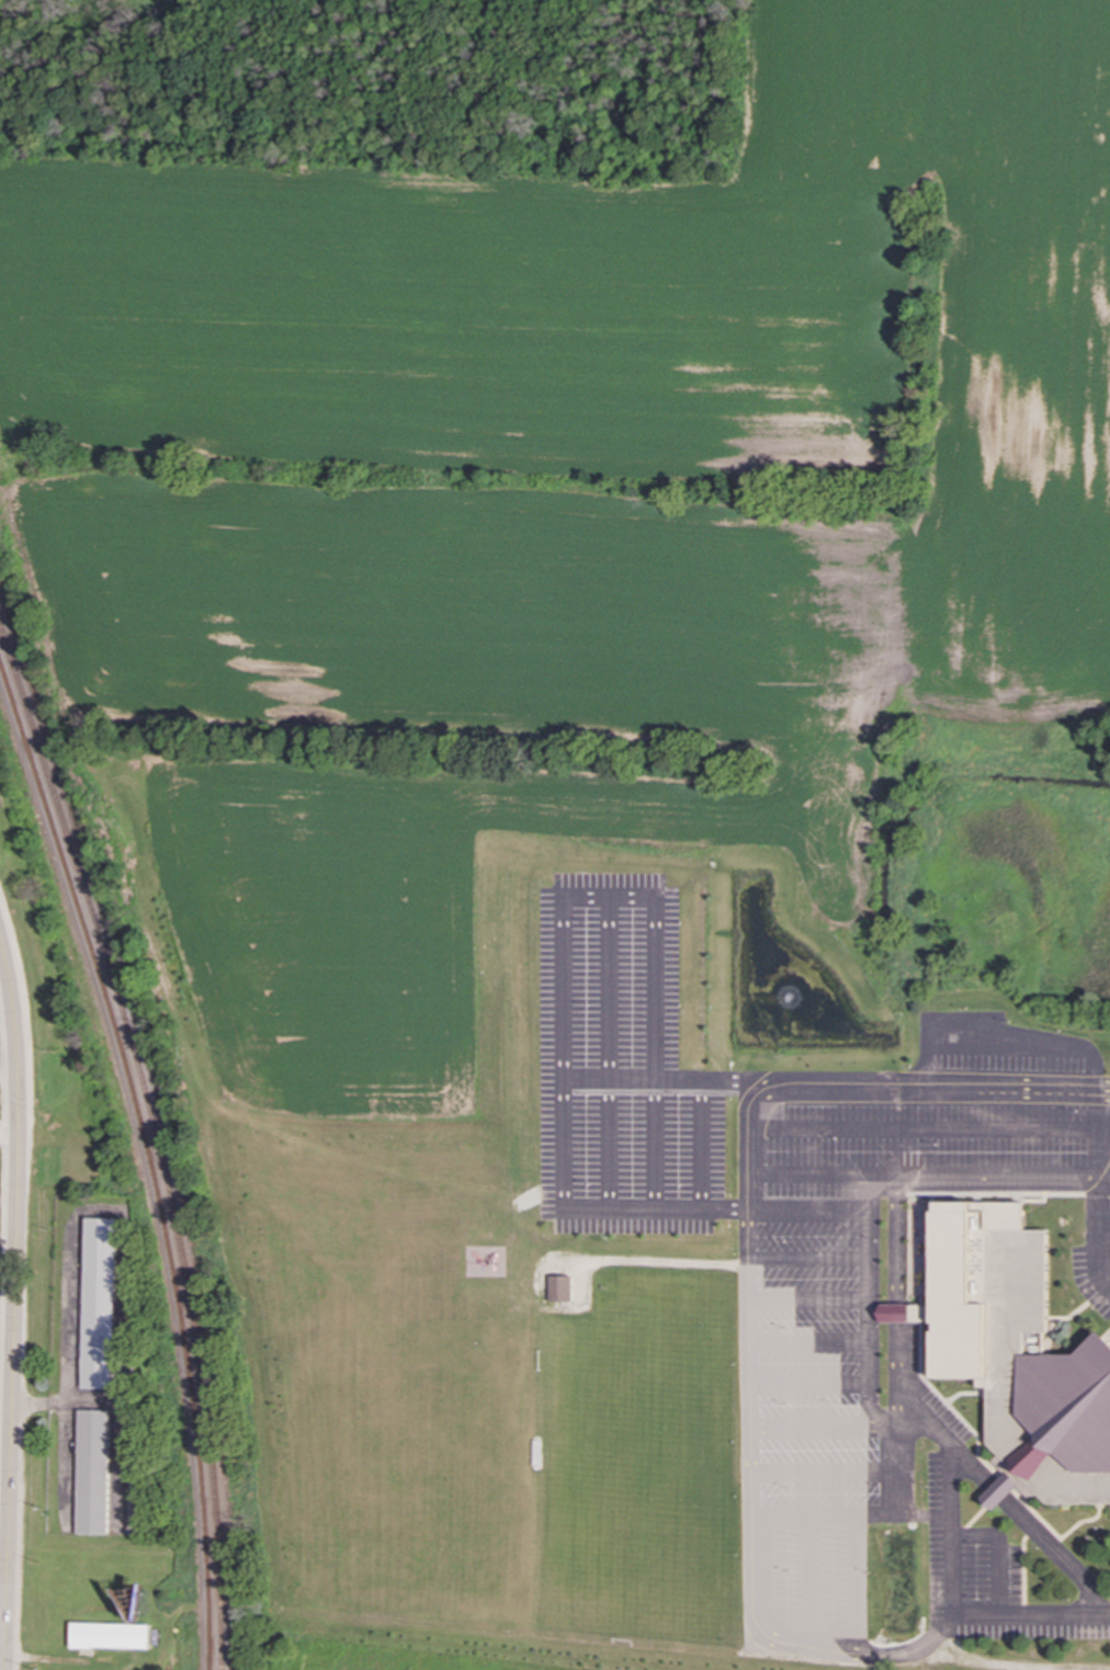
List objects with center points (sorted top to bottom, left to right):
crop: (559, 503)
road: (871, 1083)
road: (562, 1137)
road: (9, 1139)
railway: (156, 1141)
railway: (149, 1159)
road: (1044, 1182)
road: (873, 1191)
road: (805, 1211)
road: (1099, 1235)
road: (894, 1243)
building: (559, 1288)
building: (98, 1303)
road: (14, 1304)
road: (895, 1314)
building: (1018, 1352)
road: (895, 1371)
road: (749, 1413)
road: (883, 1419)
road: (883, 1432)
road: (969, 1468)
building: (91, 1472)
road: (4, 1482)
building: (999, 1490)
road: (996, 1495)
road: (950, 1500)
building: (134, 1503)
road: (996, 1553)
road: (1054, 1554)
road: (804, 1580)
road: (852, 1583)
road: (1030, 1615)
building: (109, 1636)
road: (795, 1645)
road: (907, 1652)

